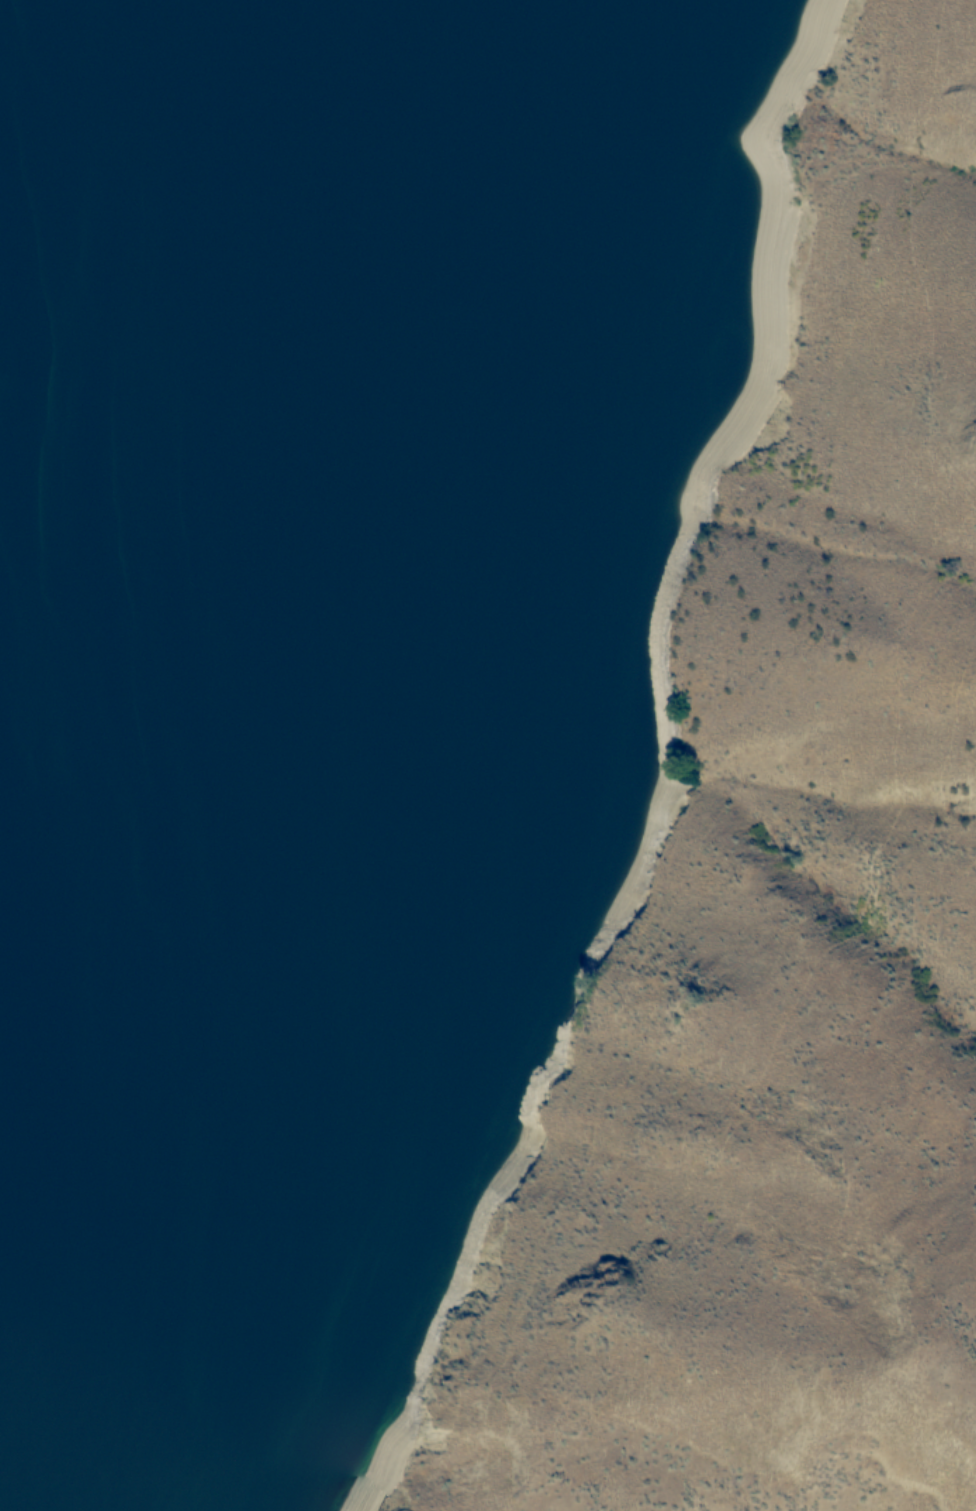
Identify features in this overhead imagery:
river: (225, 666)

